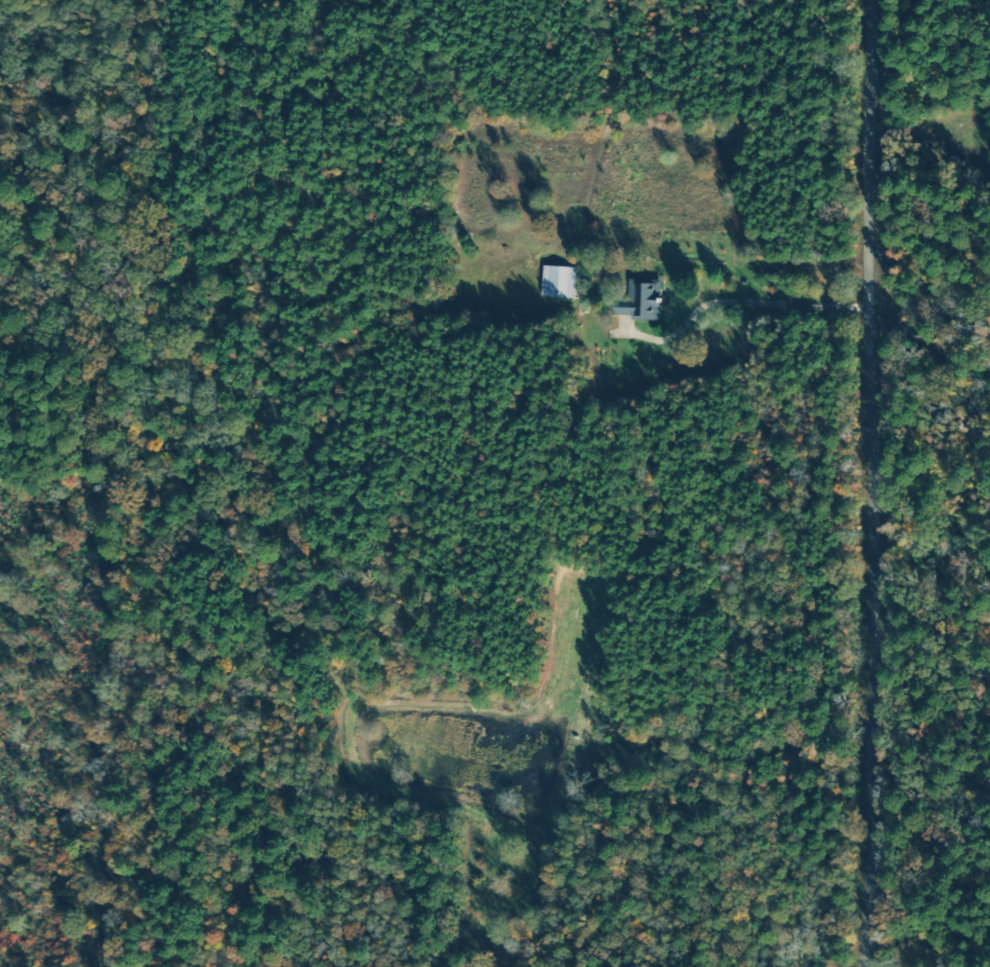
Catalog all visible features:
building: (562, 281)
building: (646, 302)
road: (739, 302)
road: (864, 483)

